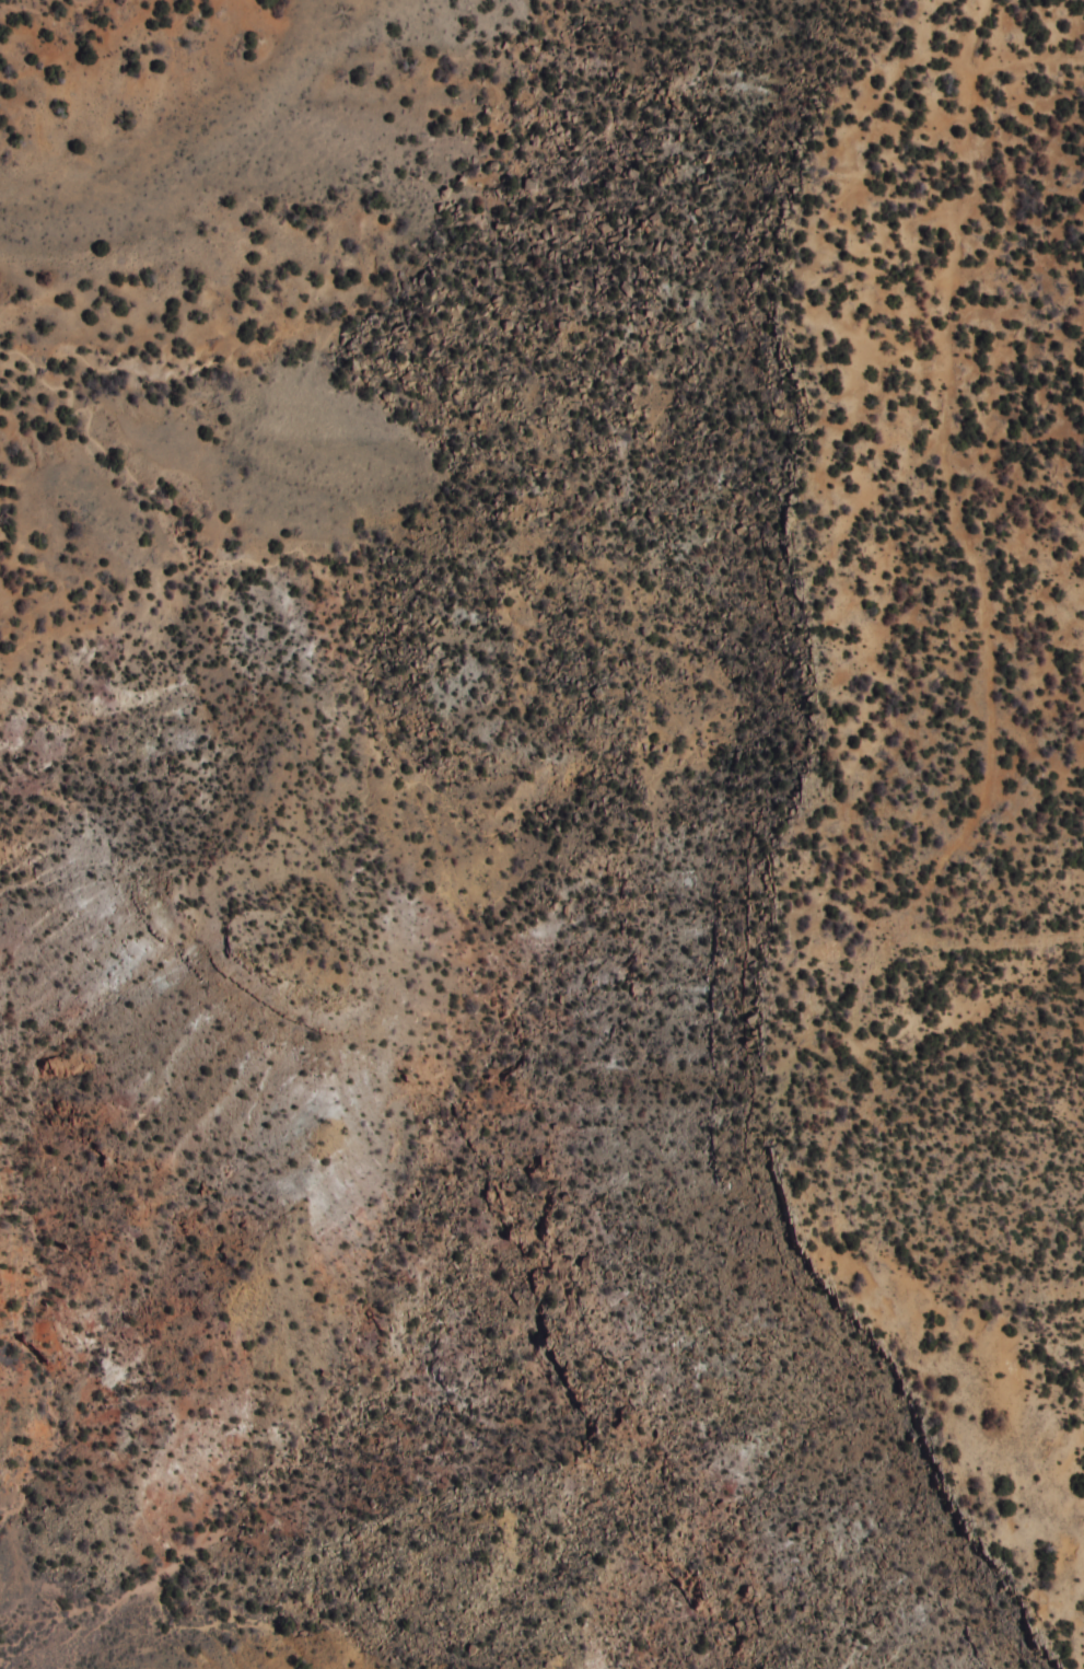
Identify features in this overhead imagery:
road: (970, 374)
road: (864, 1040)

